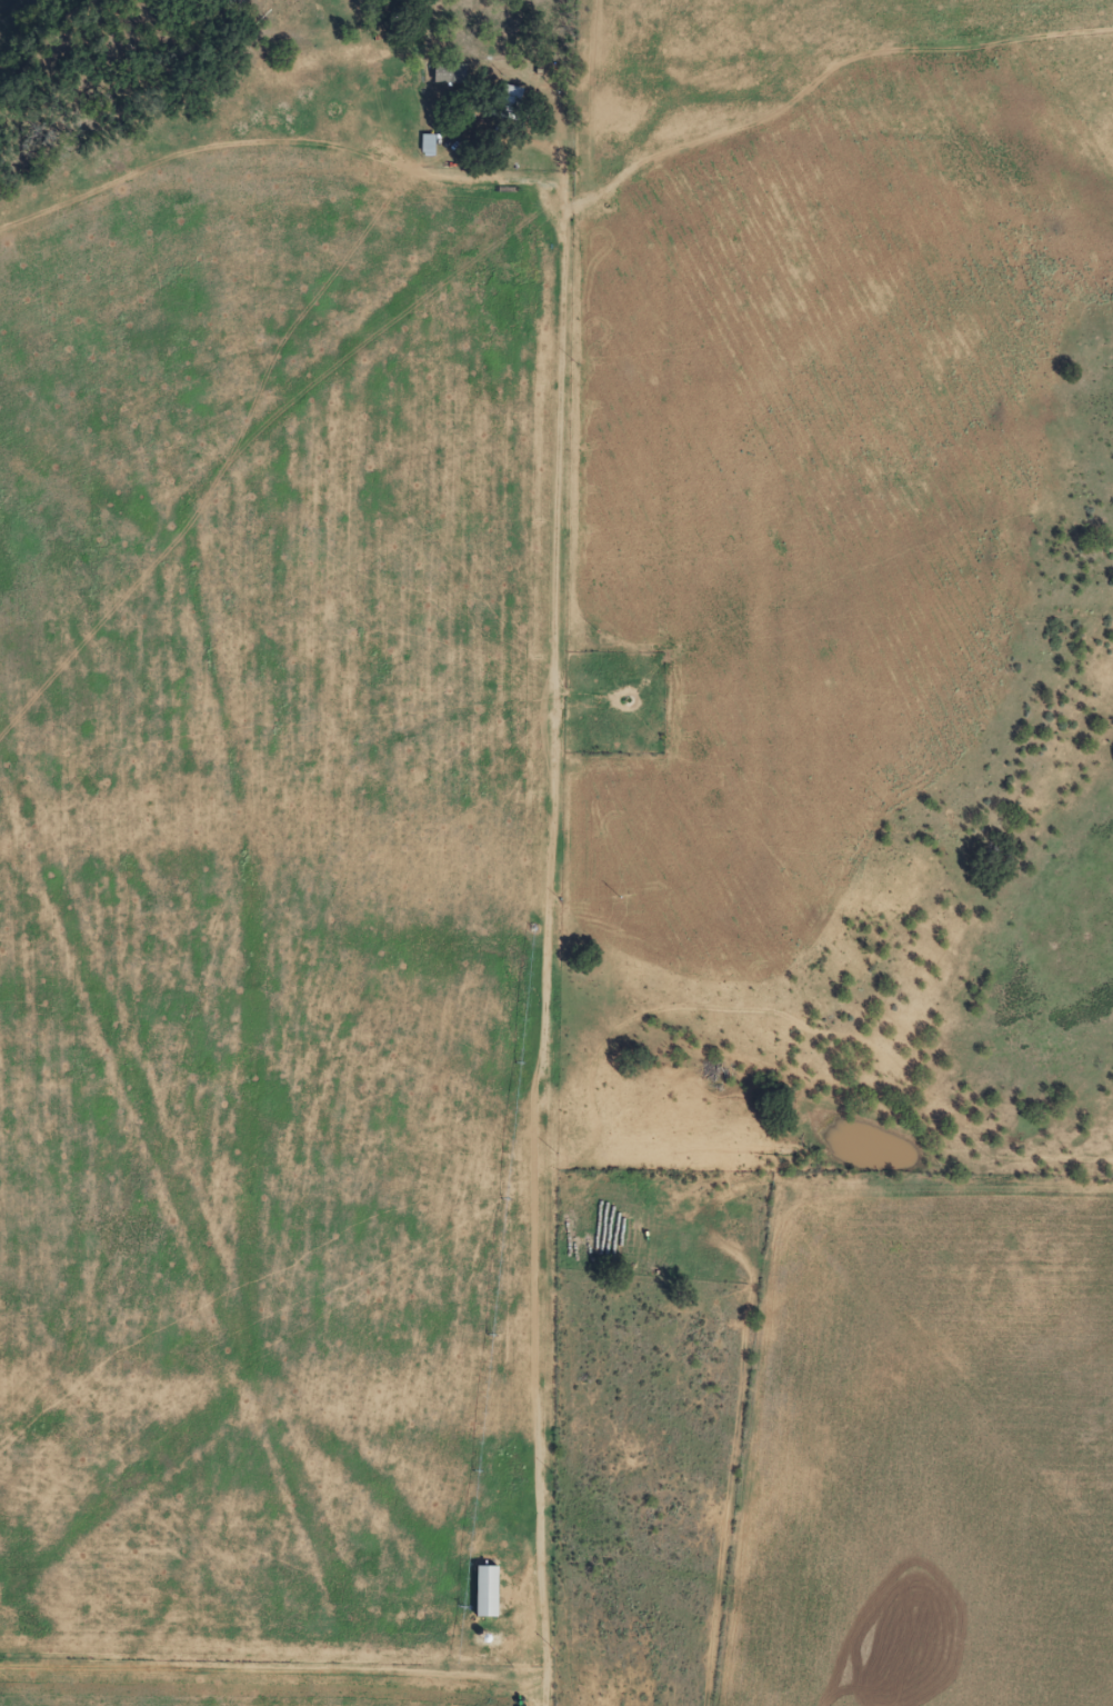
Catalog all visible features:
building: (507, 99)
building: (429, 143)
road: (604, 686)
building: (489, 1590)
road: (282, 1664)

